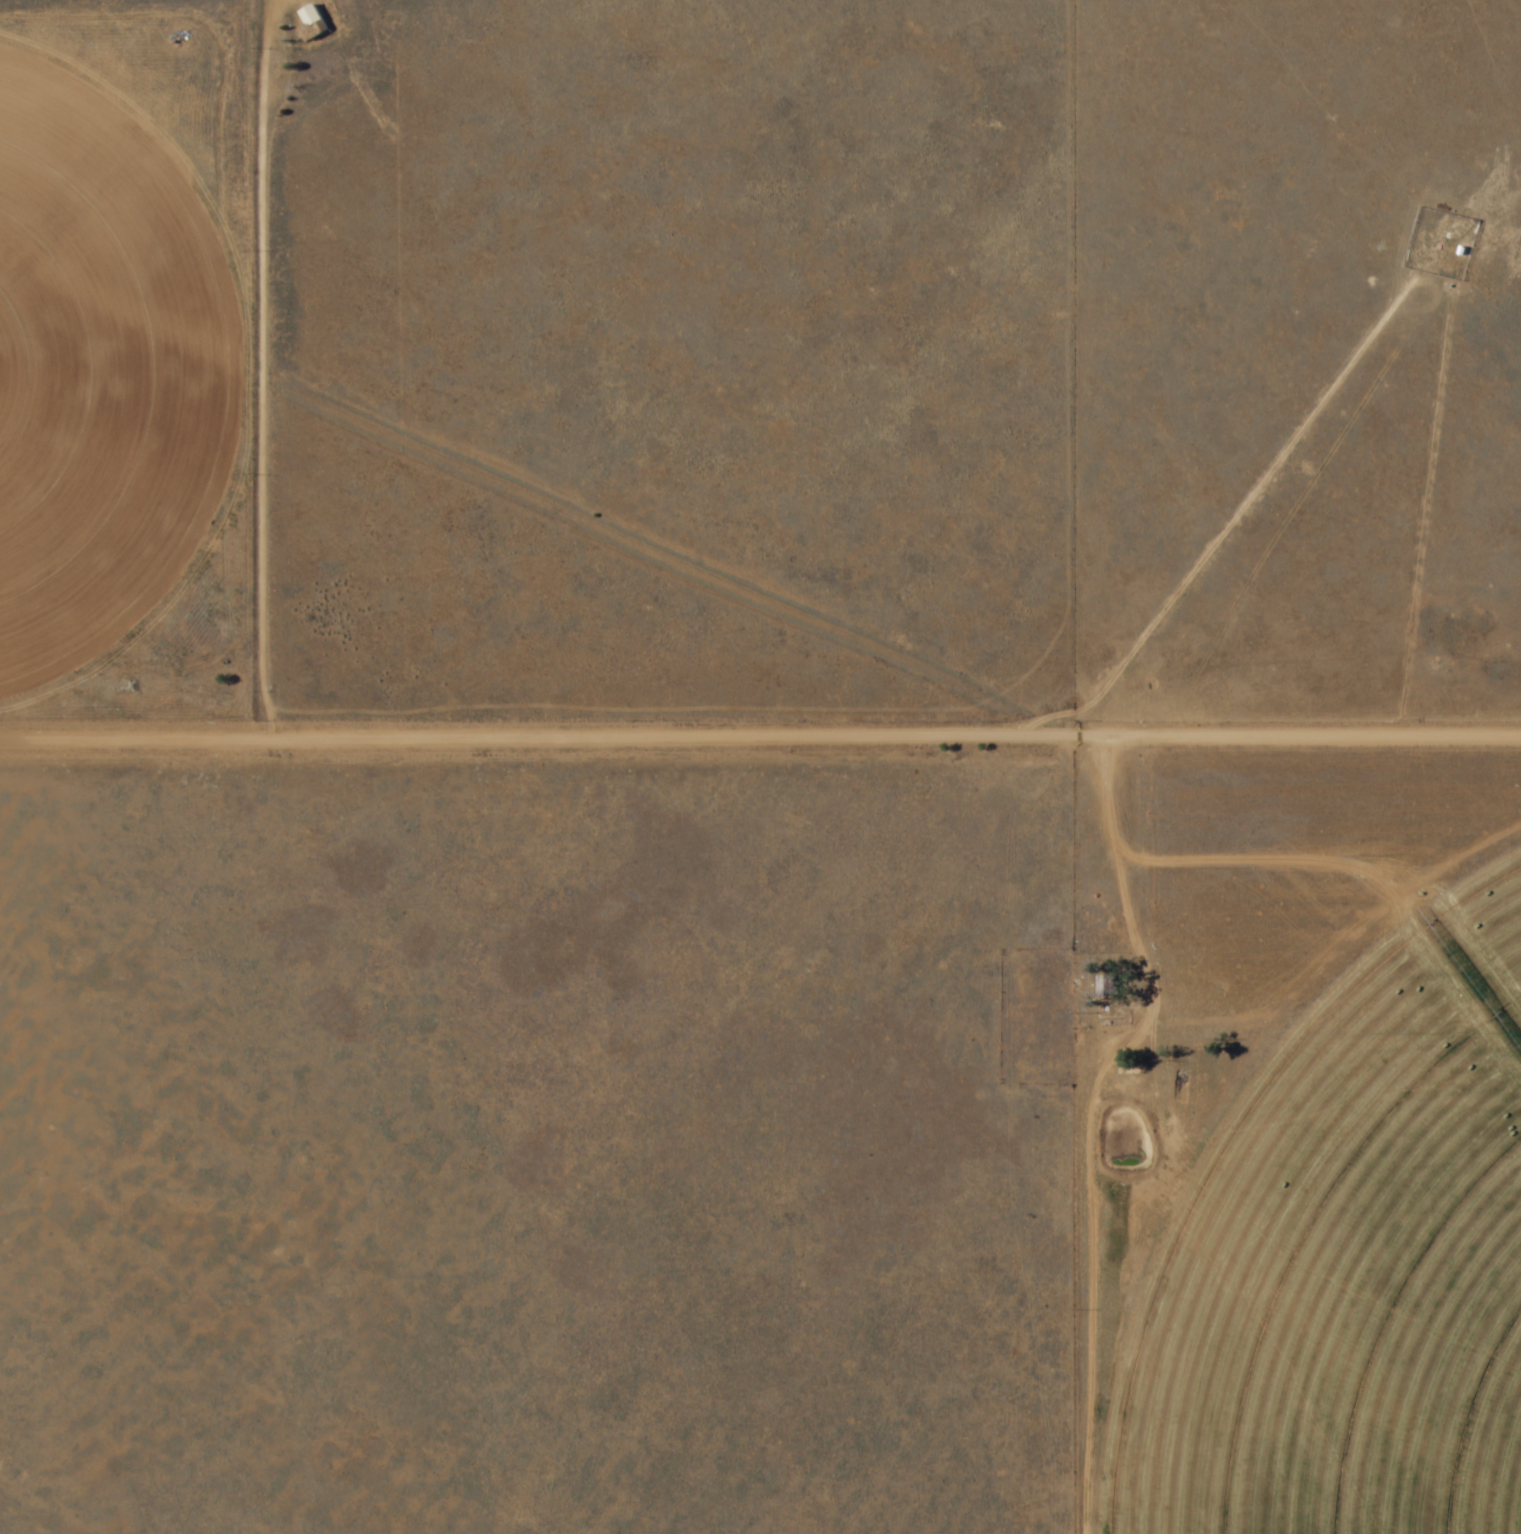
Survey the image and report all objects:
building: (312, 24)
road: (760, 740)
building: (1106, 987)
road: (1089, 1128)
crop: (1331, 1225)

